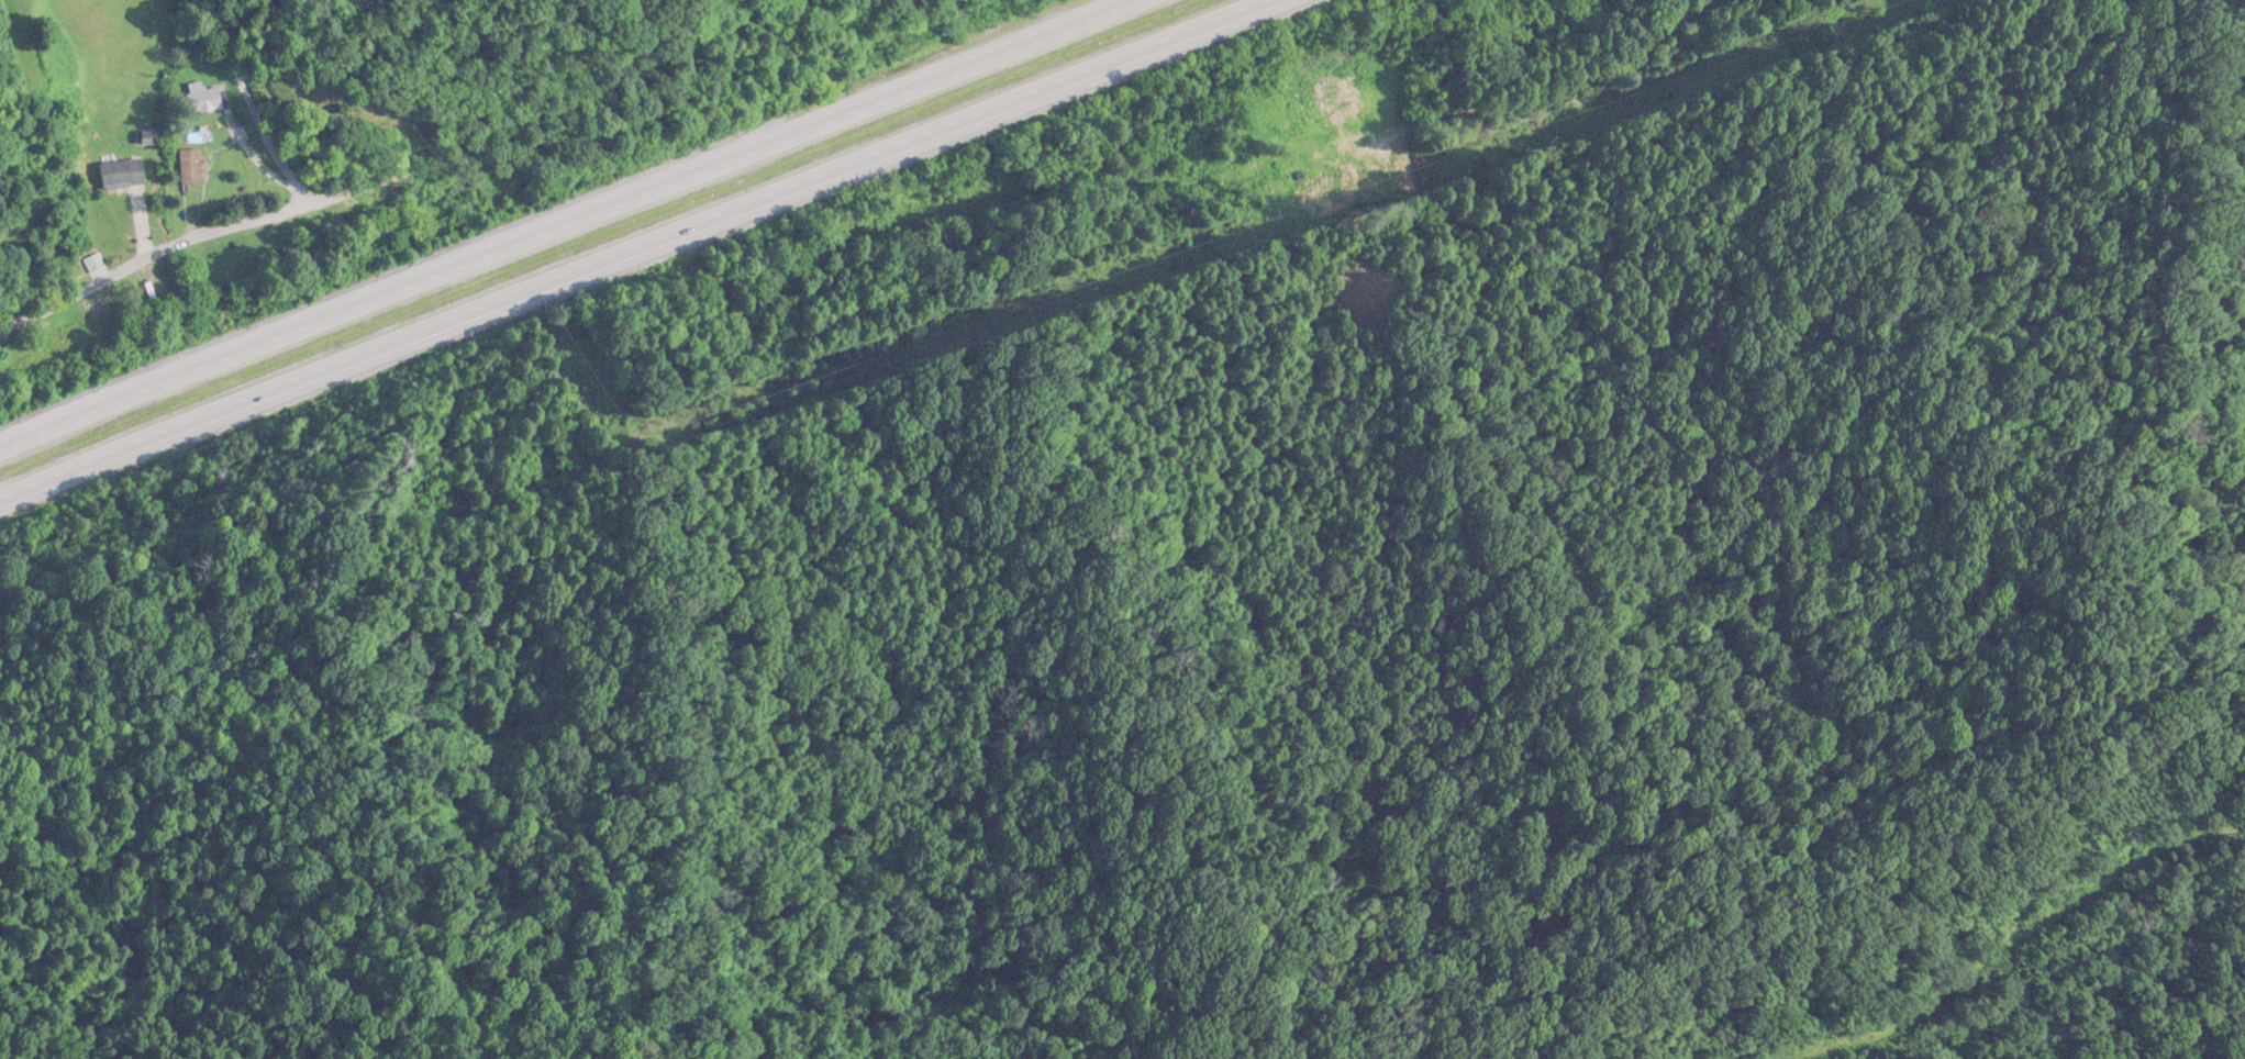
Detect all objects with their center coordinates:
building: (1335, 91)
building: (1314, 160)
building: (190, 168)
building: (122, 175)
road: (252, 194)
road: (571, 224)
road: (634, 249)

